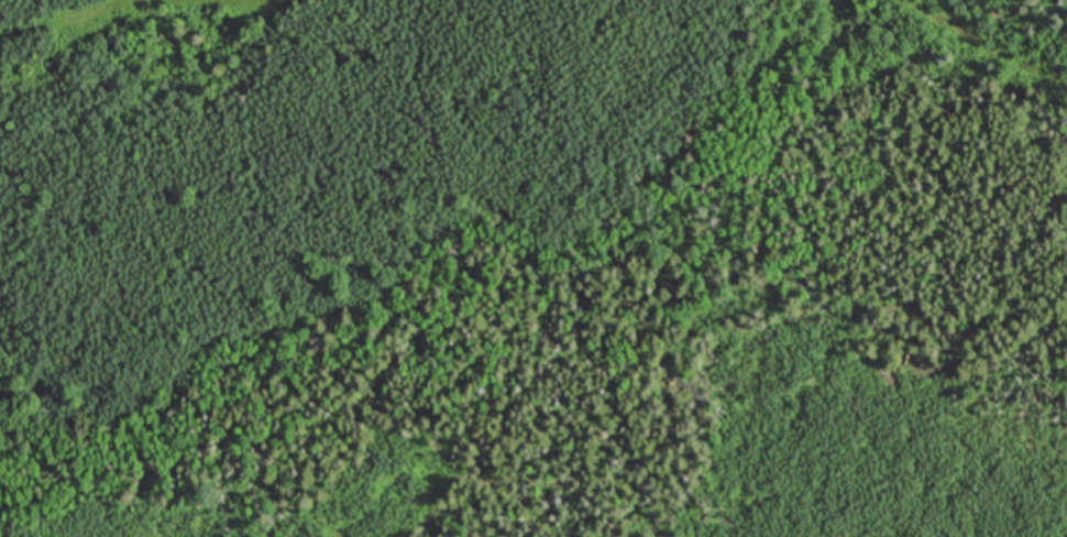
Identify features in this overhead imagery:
road: (69, 19)
road: (979, 46)

